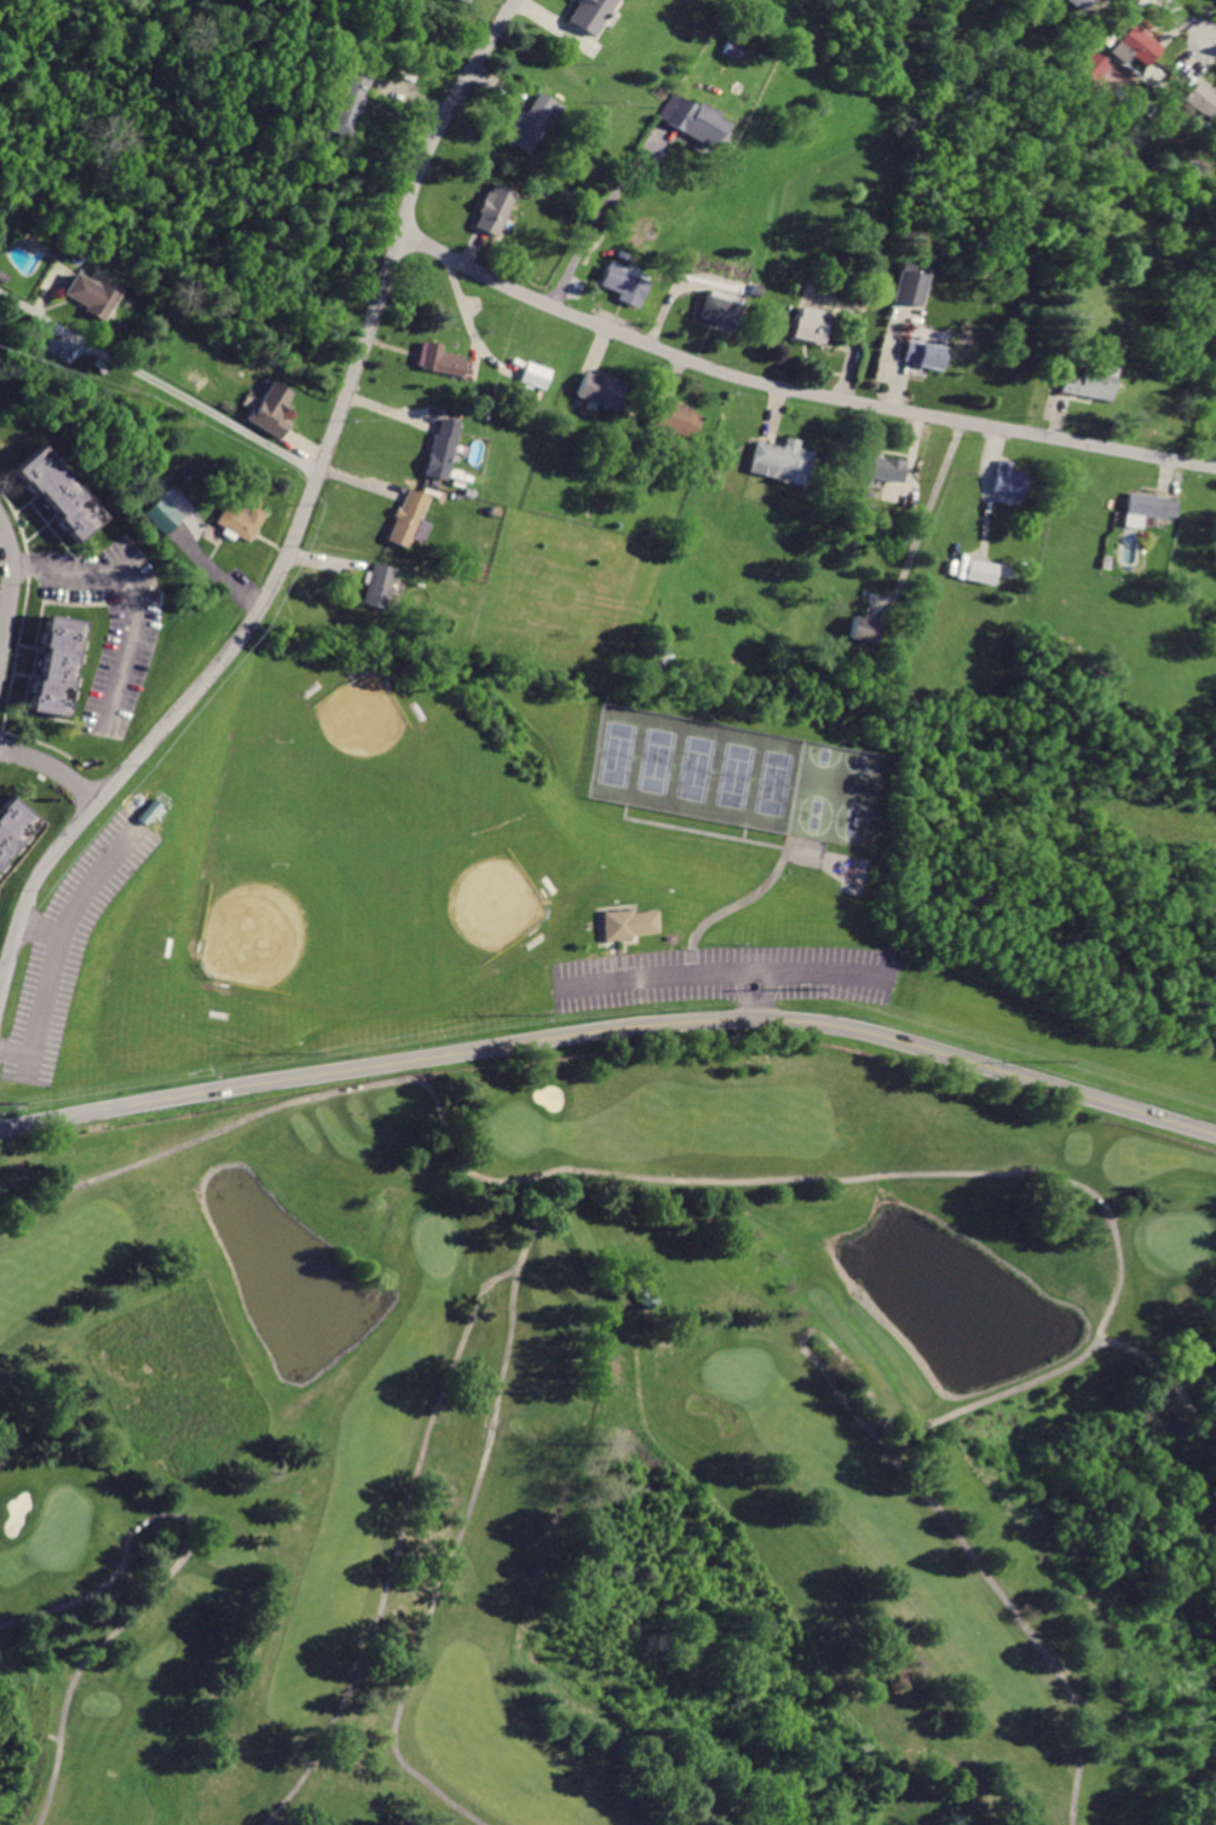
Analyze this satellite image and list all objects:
building: (1080, 4)
building: (590, 13)
road: (1186, 21)
building: (1136, 45)
building: (1099, 65)
building: (350, 98)
building: (1201, 99)
building: (530, 116)
building: (697, 120)
building: (492, 207)
road: (603, 209)
building: (622, 282)
building: (909, 282)
building: (91, 294)
building: (715, 309)
building: (806, 324)
building: (927, 355)
building: (442, 358)
building: (535, 374)
road: (148, 375)
building: (1089, 379)
building: (598, 390)
road: (795, 390)
building: (269, 407)
building: (675, 419)
building: (440, 449)
building: (783, 459)
building: (888, 466)
building: (1010, 477)
building: (63, 490)
building: (1149, 505)
building: (163, 513)
building: (407, 517)
building: (238, 520)
road: (299, 522)
road: (924, 522)
building: (982, 568)
building: (380, 583)
road: (13, 595)
road: (137, 601)
building: (868, 627)
building: (60, 661)
park: (362, 759)
park: (691, 766)
road: (52, 767)
park: (816, 777)
park: (854, 784)
park: (444, 798)
park: (362, 799)
park: (281, 818)
park: (807, 824)
building: (15, 825)
park: (847, 831)
park: (462, 885)
park: (457, 894)
road: (743, 897)
park: (294, 900)
building: (621, 921)
park: (363, 923)
parking lot: (67, 946)
road: (795, 974)
road: (662, 975)
parking lot: (722, 975)
road: (51, 988)
road: (611, 1026)
park: (515, 1123)
road: (559, 1196)
park: (437, 1238)
building: (647, 1295)
road: (808, 1331)
road: (1099, 1343)
park: (738, 1370)
road: (1170, 1375)
park: (600, 1441)
road: (397, 1544)
road: (173, 1571)

